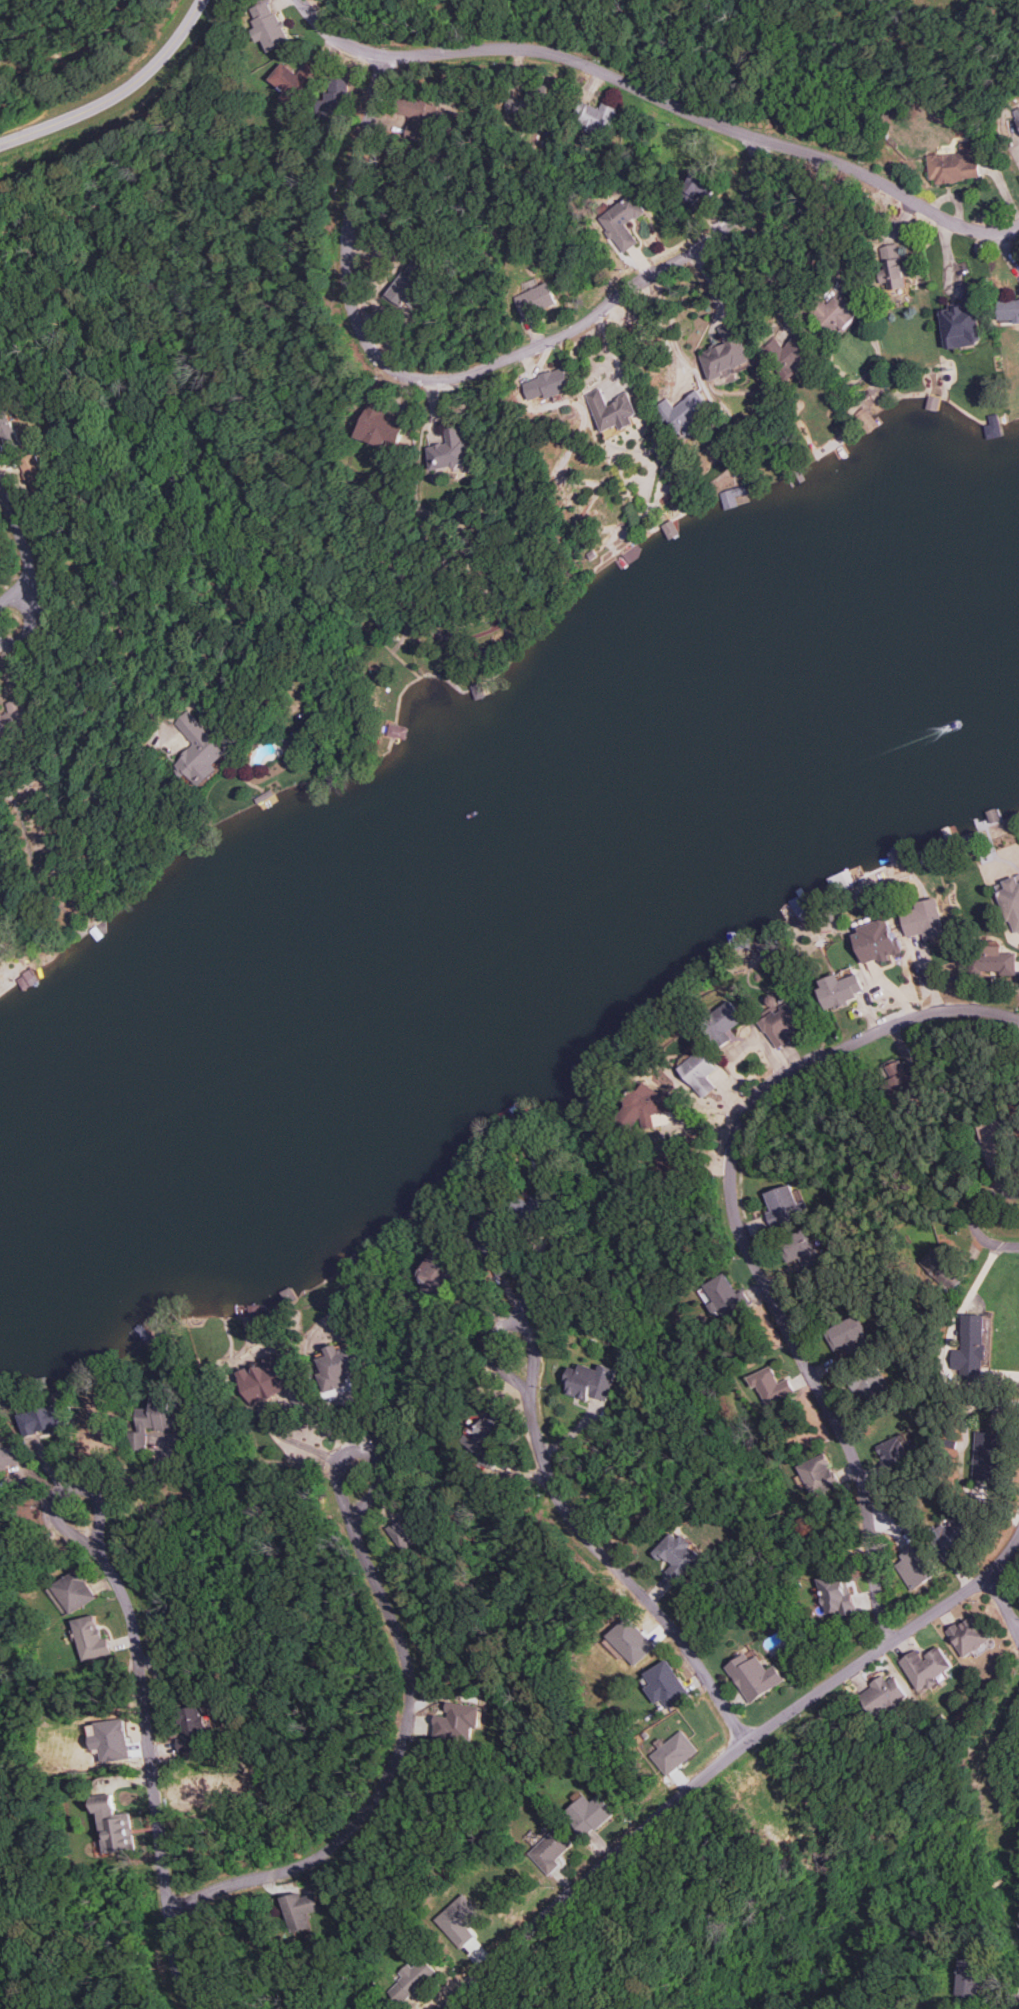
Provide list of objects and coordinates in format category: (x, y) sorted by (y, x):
building: (268, 25)
road: (63, 59)
building: (294, 80)
road: (116, 90)
building: (336, 98)
road: (660, 98)
road: (39, 99)
building: (526, 101)
building: (1016, 114)
building: (600, 116)
building: (419, 117)
building: (954, 165)
building: (697, 187)
building: (623, 221)
building: (892, 268)
building: (409, 284)
building: (536, 299)
building: (1009, 310)
building: (839, 312)
building: (964, 321)
road: (673, 336)
building: (727, 351)
road: (465, 370)
building: (550, 383)
building: (615, 410)
building: (688, 411)
building: (382, 423)
building: (9, 431)
building: (451, 450)
building: (37, 474)
road: (27, 552)
road: (127, 635)
building: (13, 719)
building: (201, 750)
building: (1011, 901)
building: (923, 919)
building: (992, 960)
building: (840, 989)
building: (724, 1021)
building: (699, 1073)
building: (905, 1076)
building: (644, 1105)
building: (995, 1144)
building: (784, 1206)
building: (530, 1208)
road: (978, 1217)
road: (743, 1238)
building: (488, 1247)
building: (802, 1249)
building: (943, 1268)
building: (439, 1270)
building: (724, 1295)
building: (846, 1333)
building: (971, 1347)
building: (338, 1366)
building: (265, 1378)
building: (590, 1381)
building: (873, 1384)
building: (770, 1385)
road: (274, 1406)
road: (360, 1417)
building: (42, 1419)
building: (157, 1420)
building: (484, 1440)
building: (894, 1451)
building: (9, 1455)
building: (985, 1455)
building: (818, 1475)
road: (129, 1478)
road: (617, 1508)
building: (405, 1531)
building: (951, 1536)
building: (677, 1555)
road: (607, 1558)
building: (915, 1566)
building: (72, 1591)
building: (836, 1593)
road: (960, 1595)
road: (1004, 1599)
building: (970, 1634)
building: (91, 1638)
building: (631, 1640)
building: (926, 1667)
building: (754, 1676)
building: (665, 1684)
building: (884, 1696)
building: (457, 1721)
building: (193, 1730)
building: (110, 1739)
building: (674, 1752)
road: (400, 1753)
road: (150, 1756)
building: (589, 1813)
road: (659, 1815)
building: (113, 1825)
building: (551, 1850)
building: (299, 1911)
building: (459, 1920)
building: (970, 1977)
building: (412, 1980)
road: (1016, 2005)

